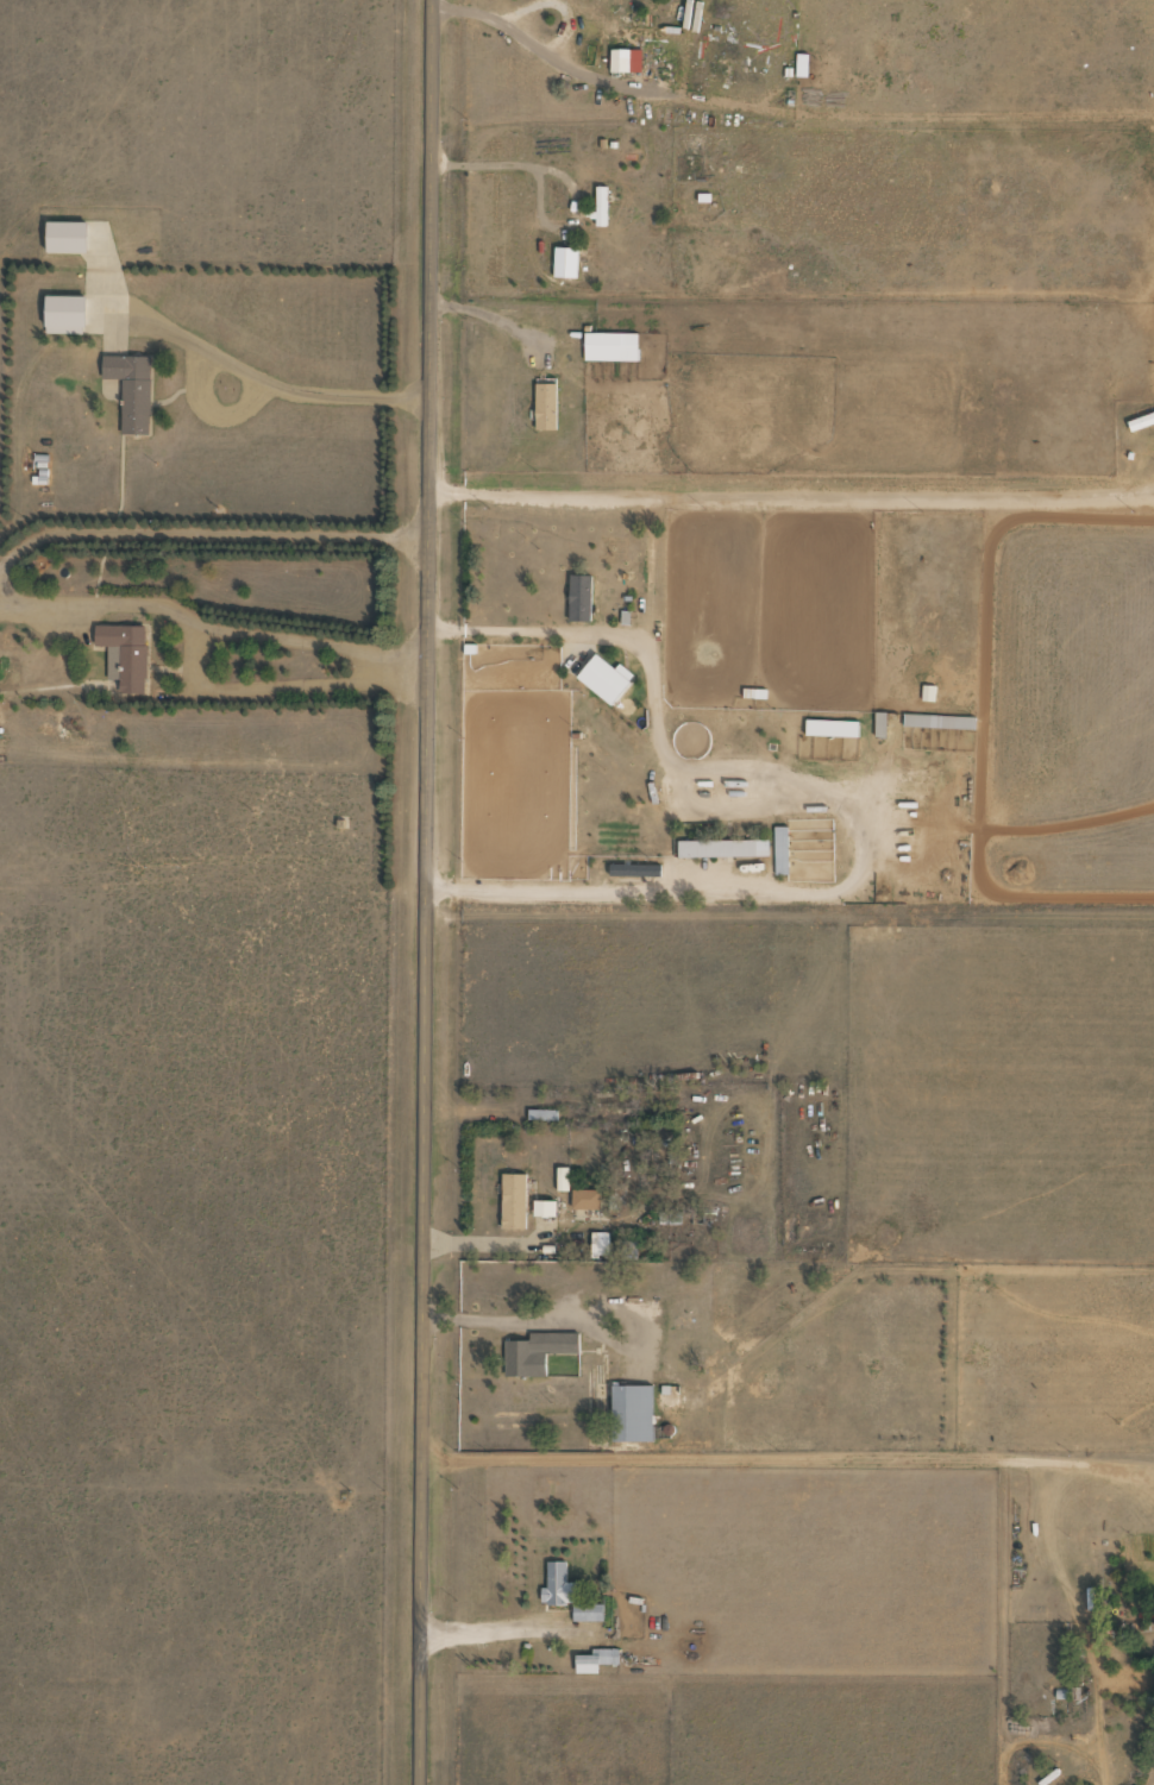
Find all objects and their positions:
building: (604, 24)
building: (621, 62)
building: (601, 206)
building: (565, 264)
building: (65, 315)
building: (612, 347)
building: (132, 390)
building: (546, 407)
building: (1141, 422)
road: (790, 492)
road: (213, 567)
building: (581, 599)
building: (125, 655)
road: (573, 677)
building: (757, 693)
building: (939, 722)
building: (832, 729)
building: (723, 849)
building: (653, 872)
road: (422, 892)
building: (542, 1117)
building: (587, 1200)
building: (514, 1201)
building: (544, 1208)
building: (670, 1219)
building: (537, 1353)
building: (632, 1414)
building: (569, 1595)
building: (598, 1658)

